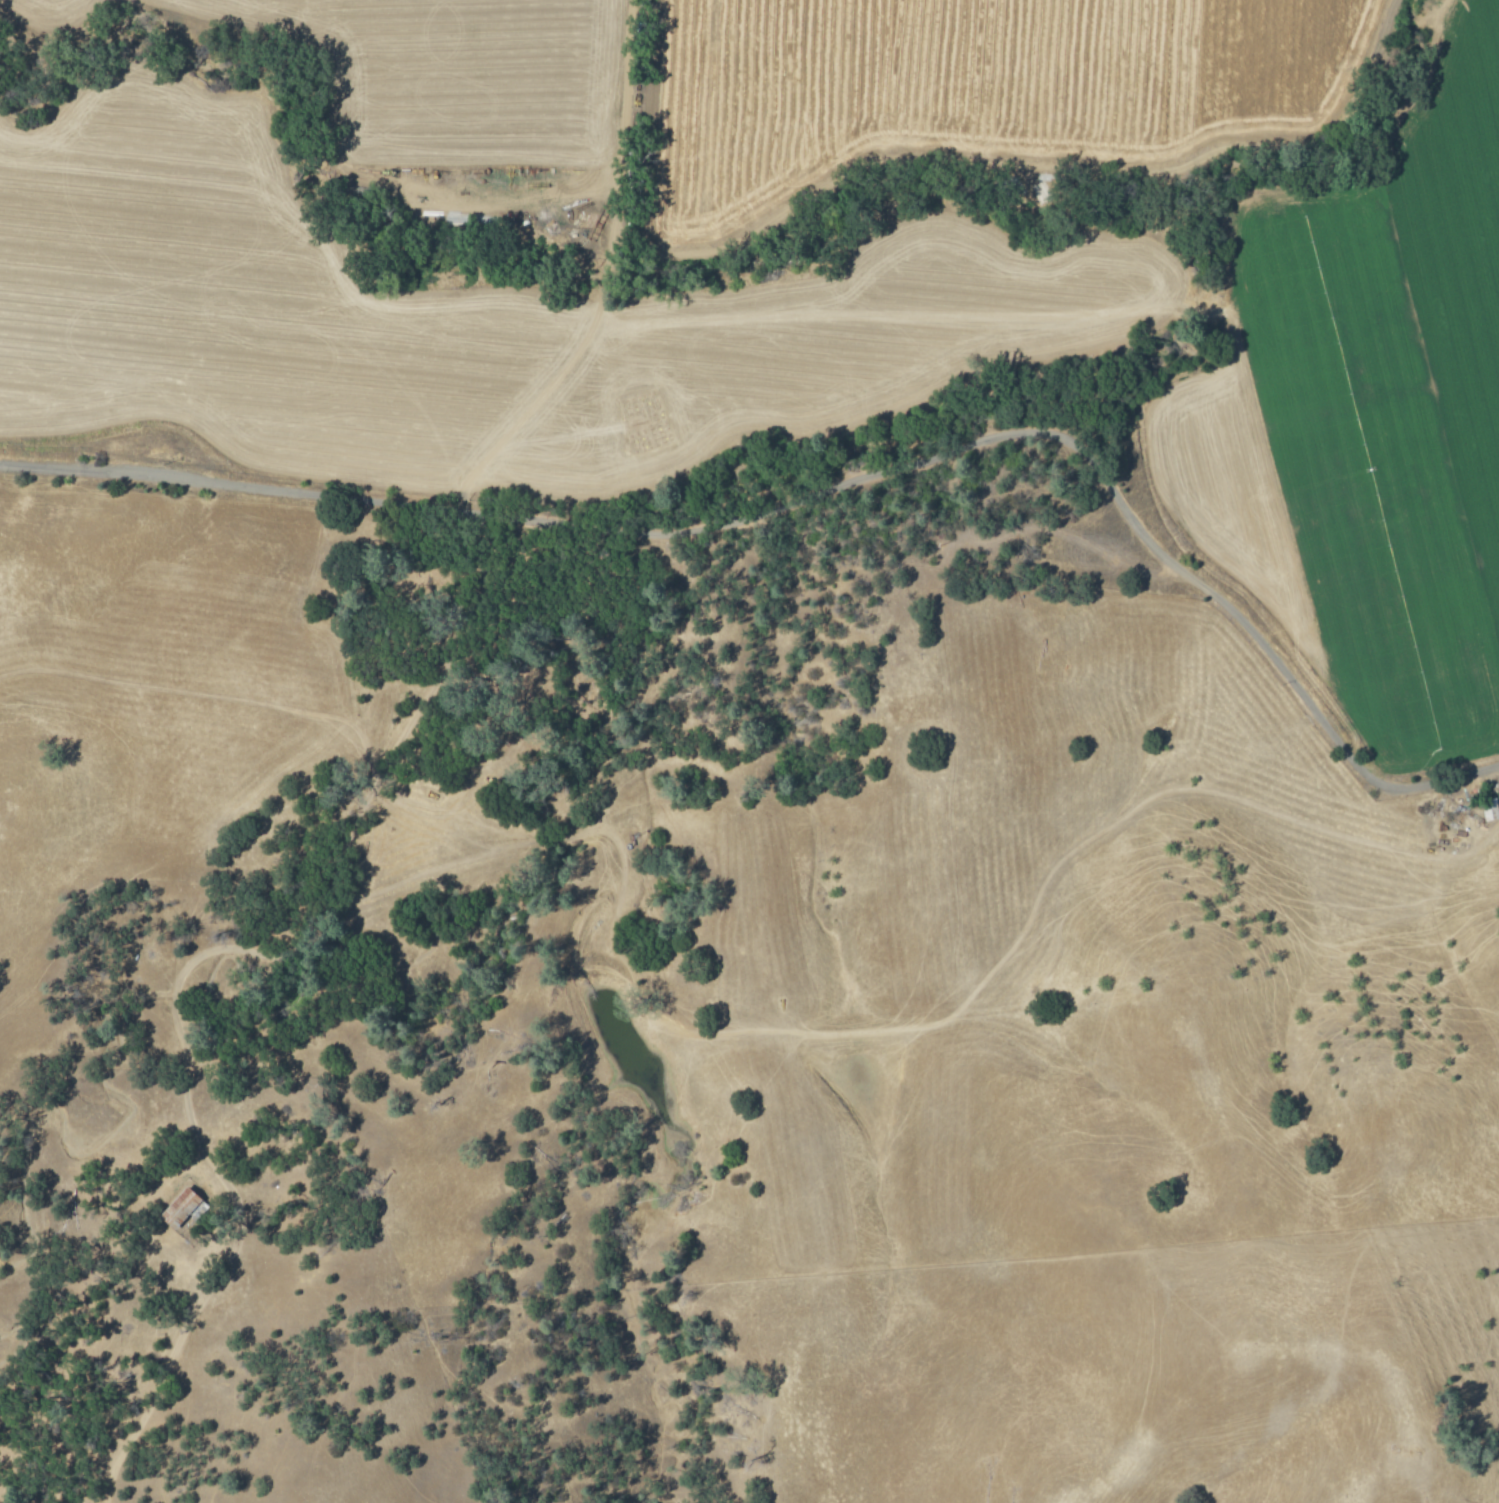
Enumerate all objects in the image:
road: (830, 493)
building: (182, 1206)

